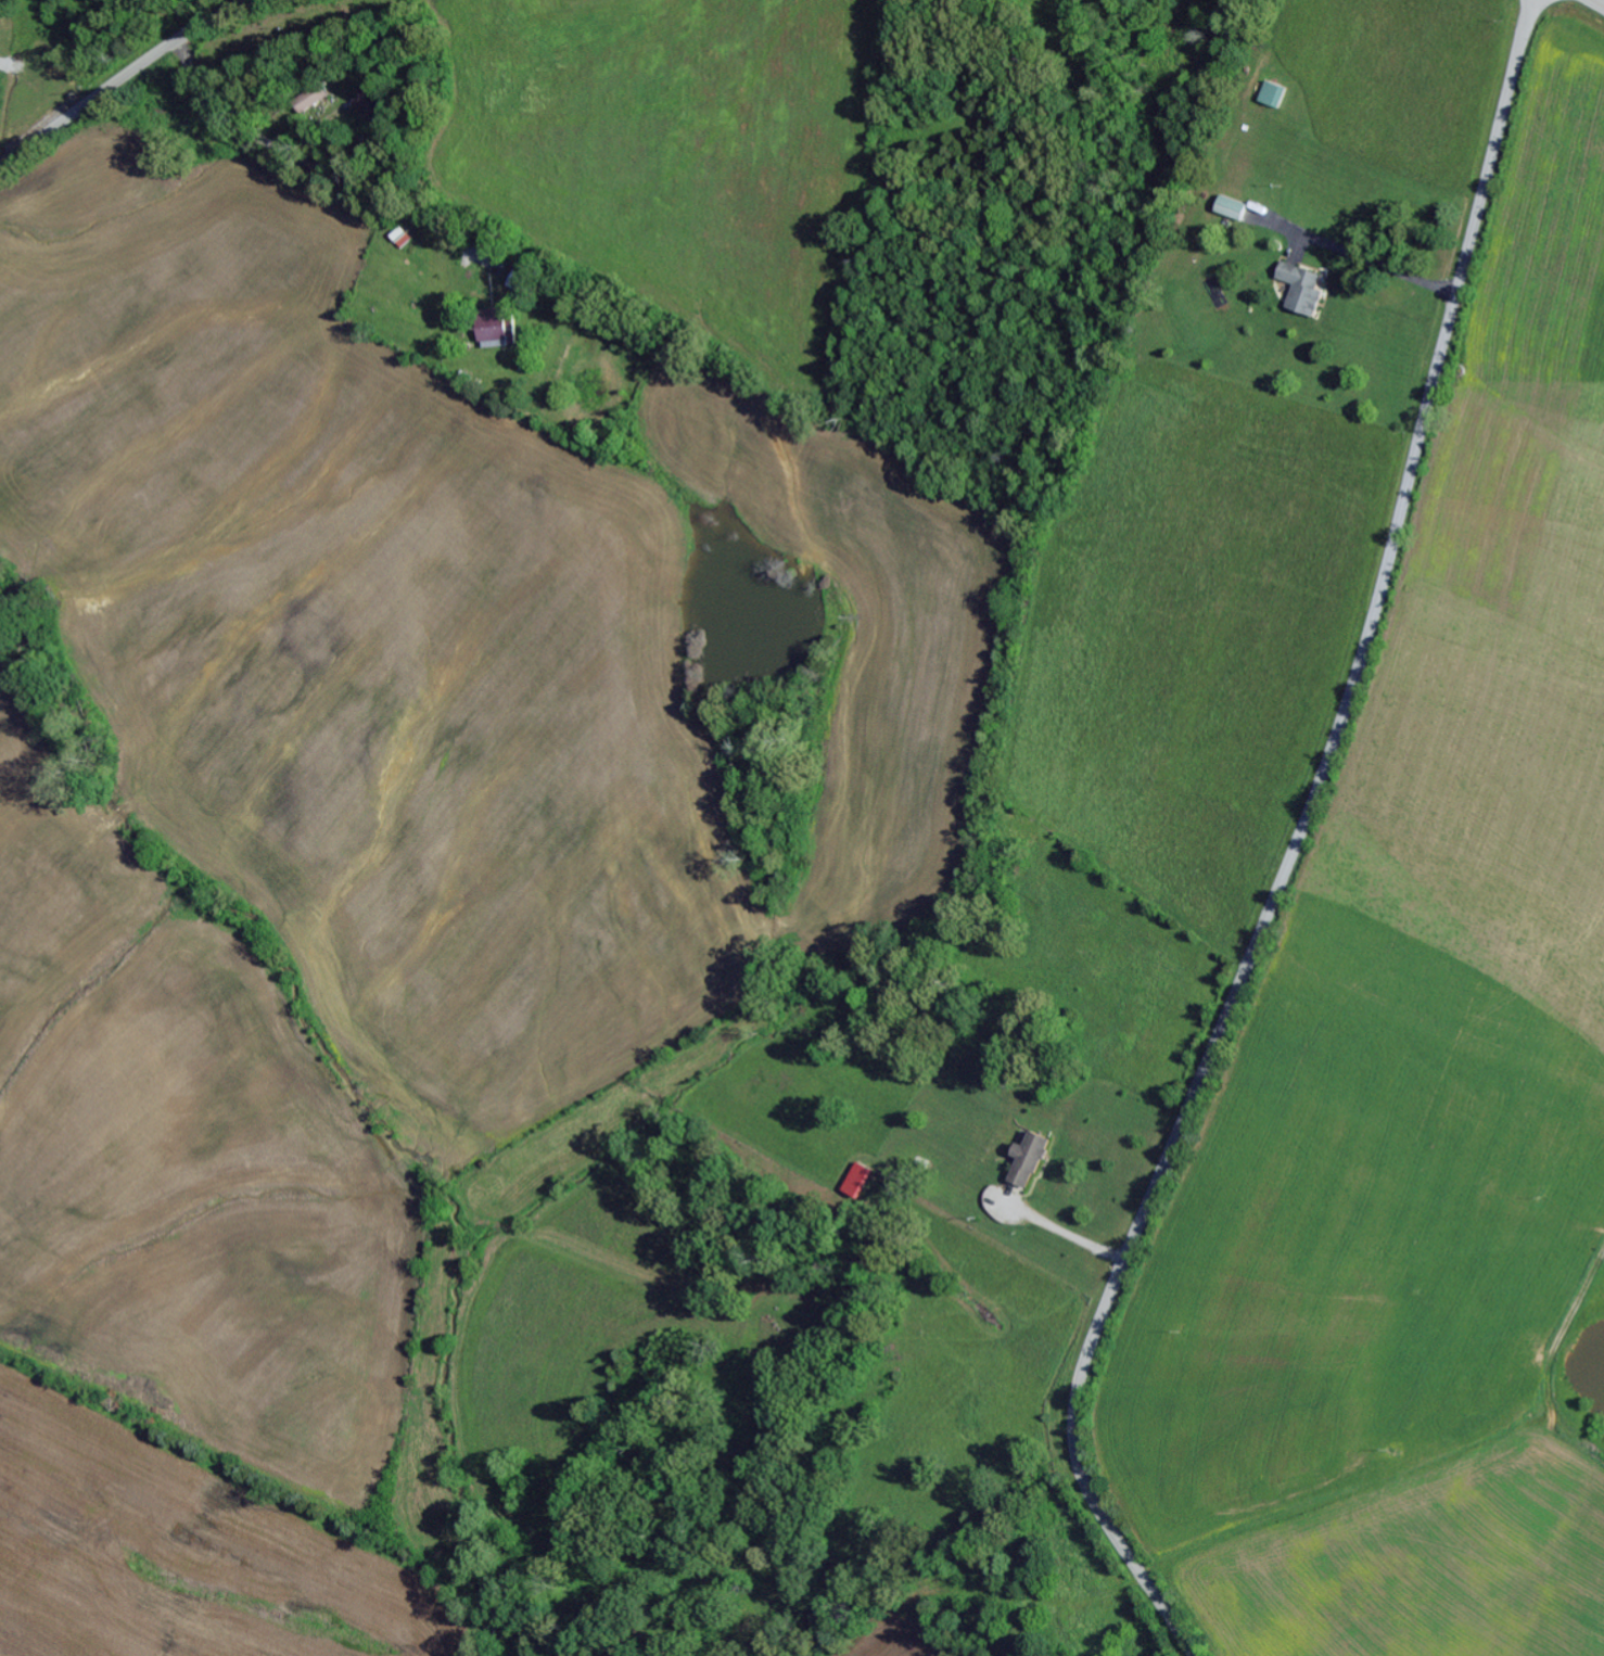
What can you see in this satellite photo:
road: (1597, 3)
road: (120, 79)
building: (1268, 95)
road: (287, 154)
building: (1229, 208)
building: (1299, 288)
building: (488, 324)
road: (1291, 848)
building: (1024, 1160)
building: (854, 1181)

